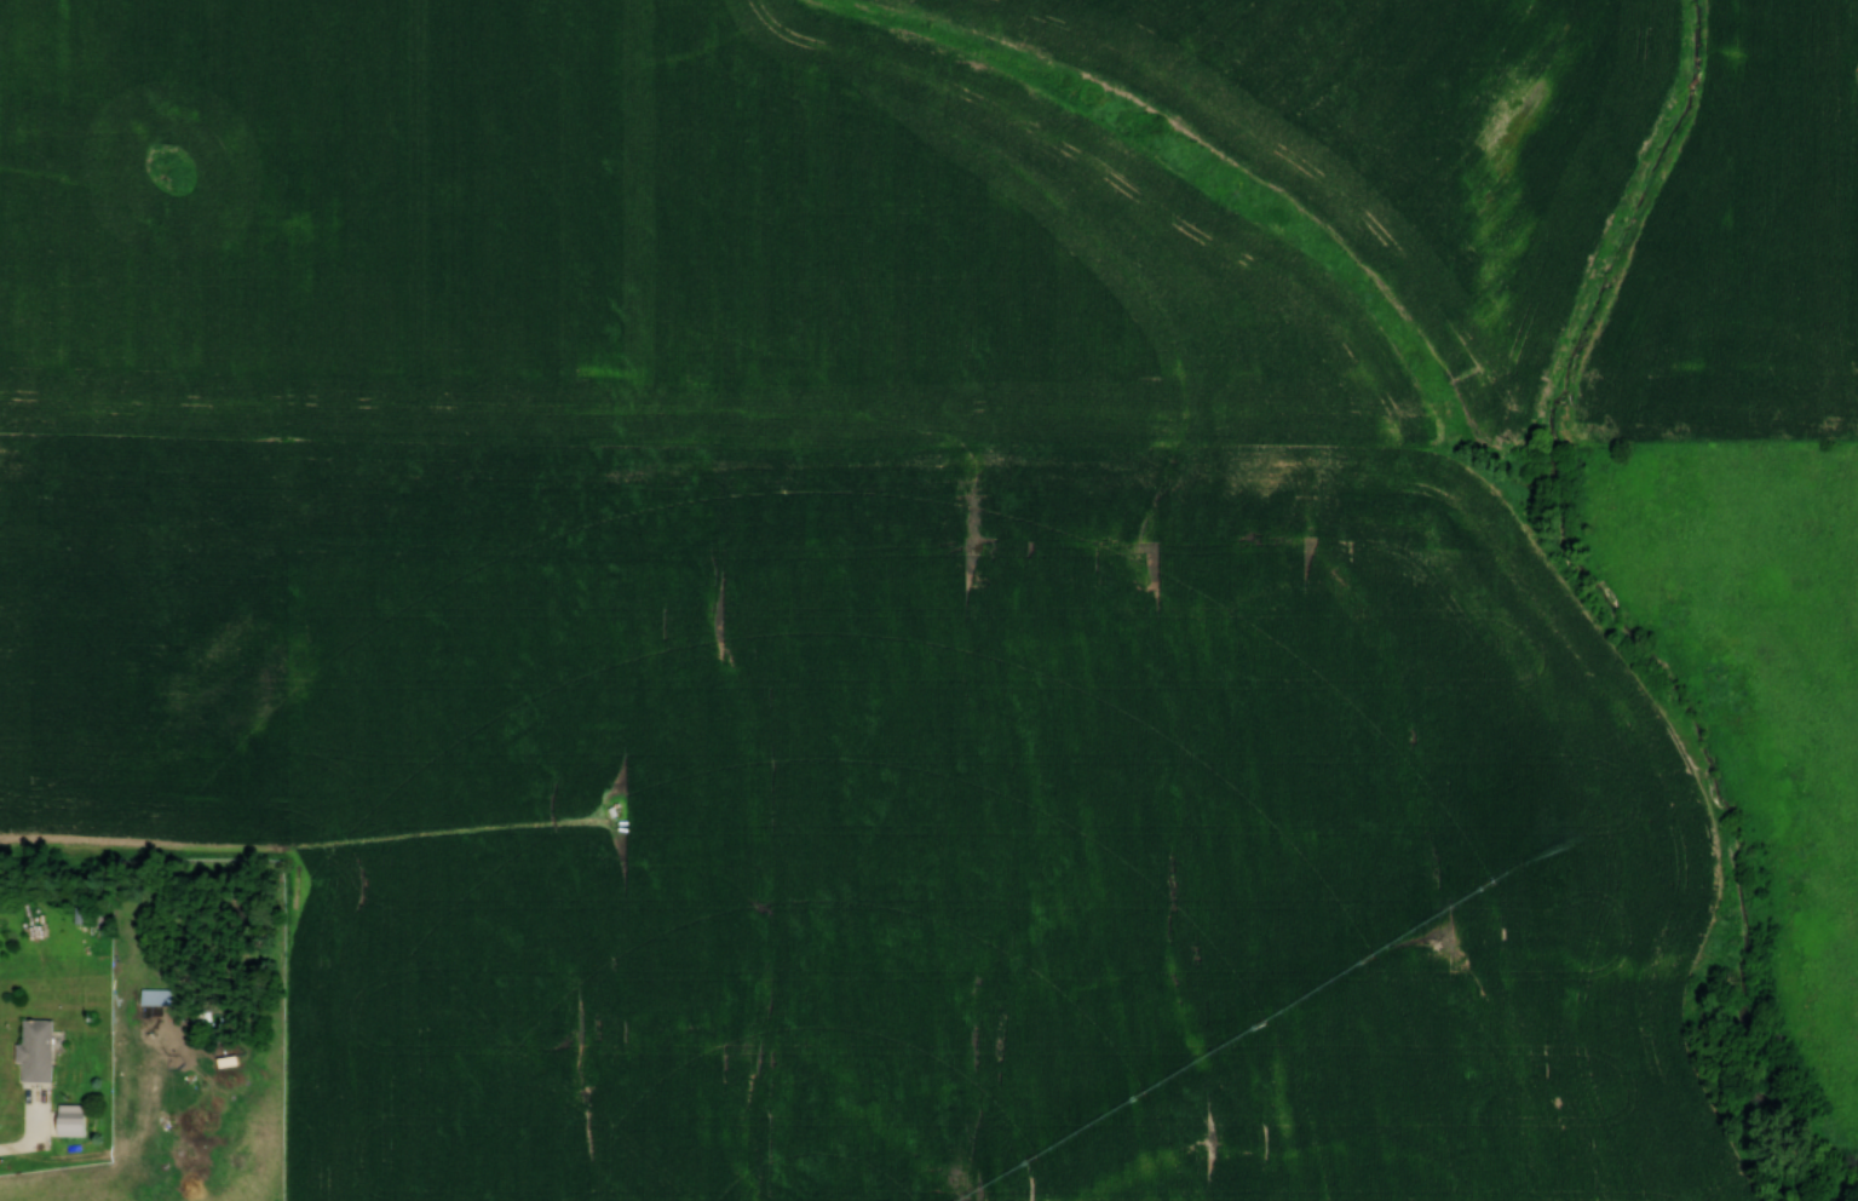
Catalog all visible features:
building: (156, 994)
building: (38, 1048)
building: (73, 1119)
road: (44, 1147)

